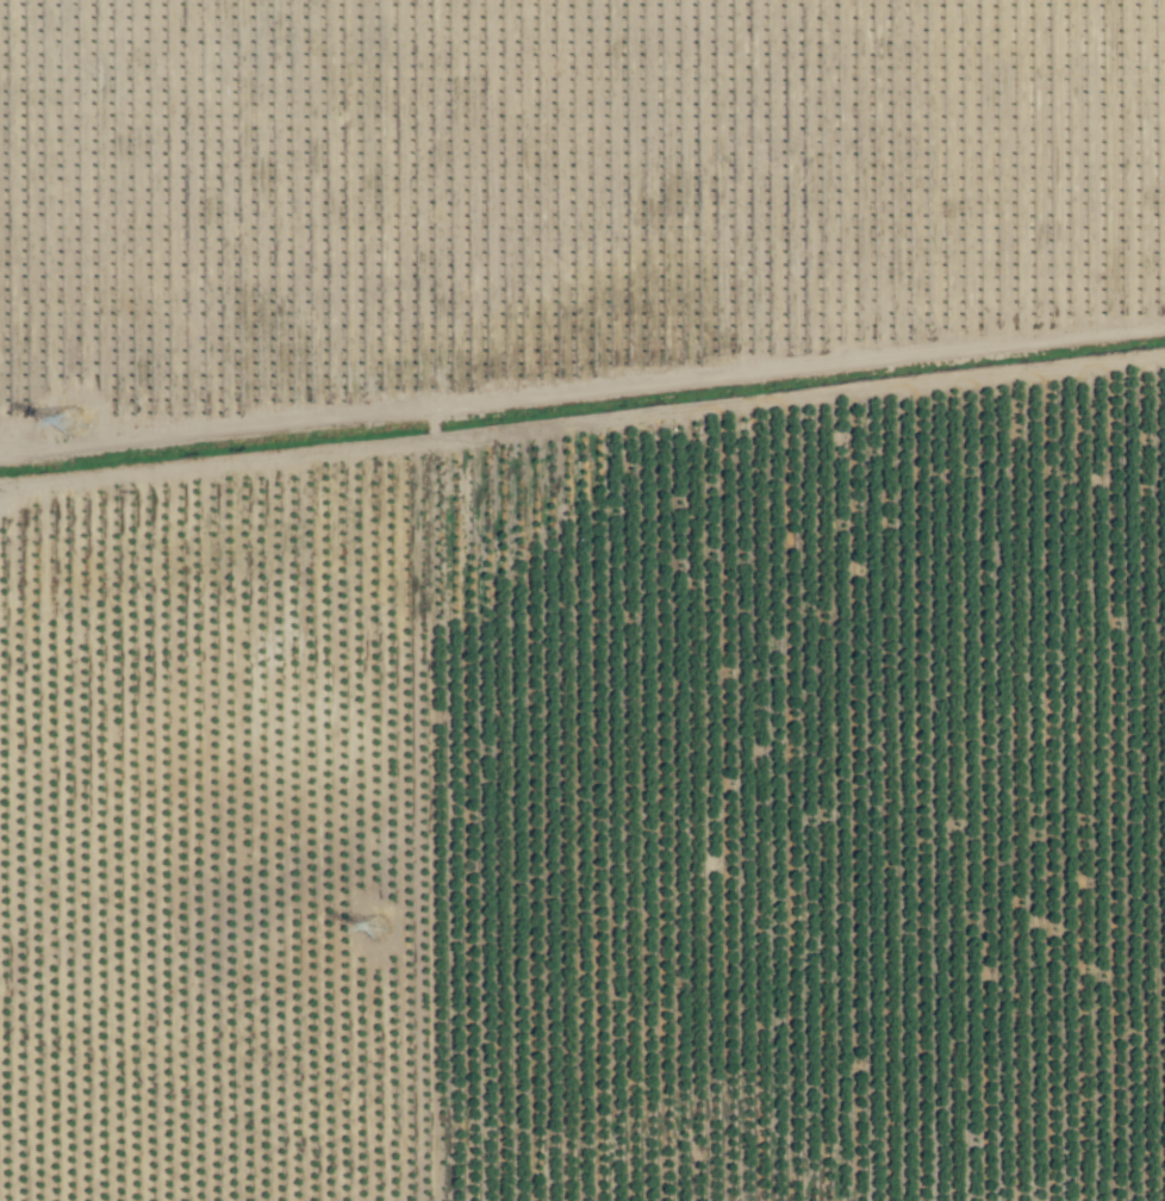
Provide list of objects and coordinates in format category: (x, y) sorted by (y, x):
power tower: (117, 500)
crop: (582, 600)
power tower: (373, 927)

